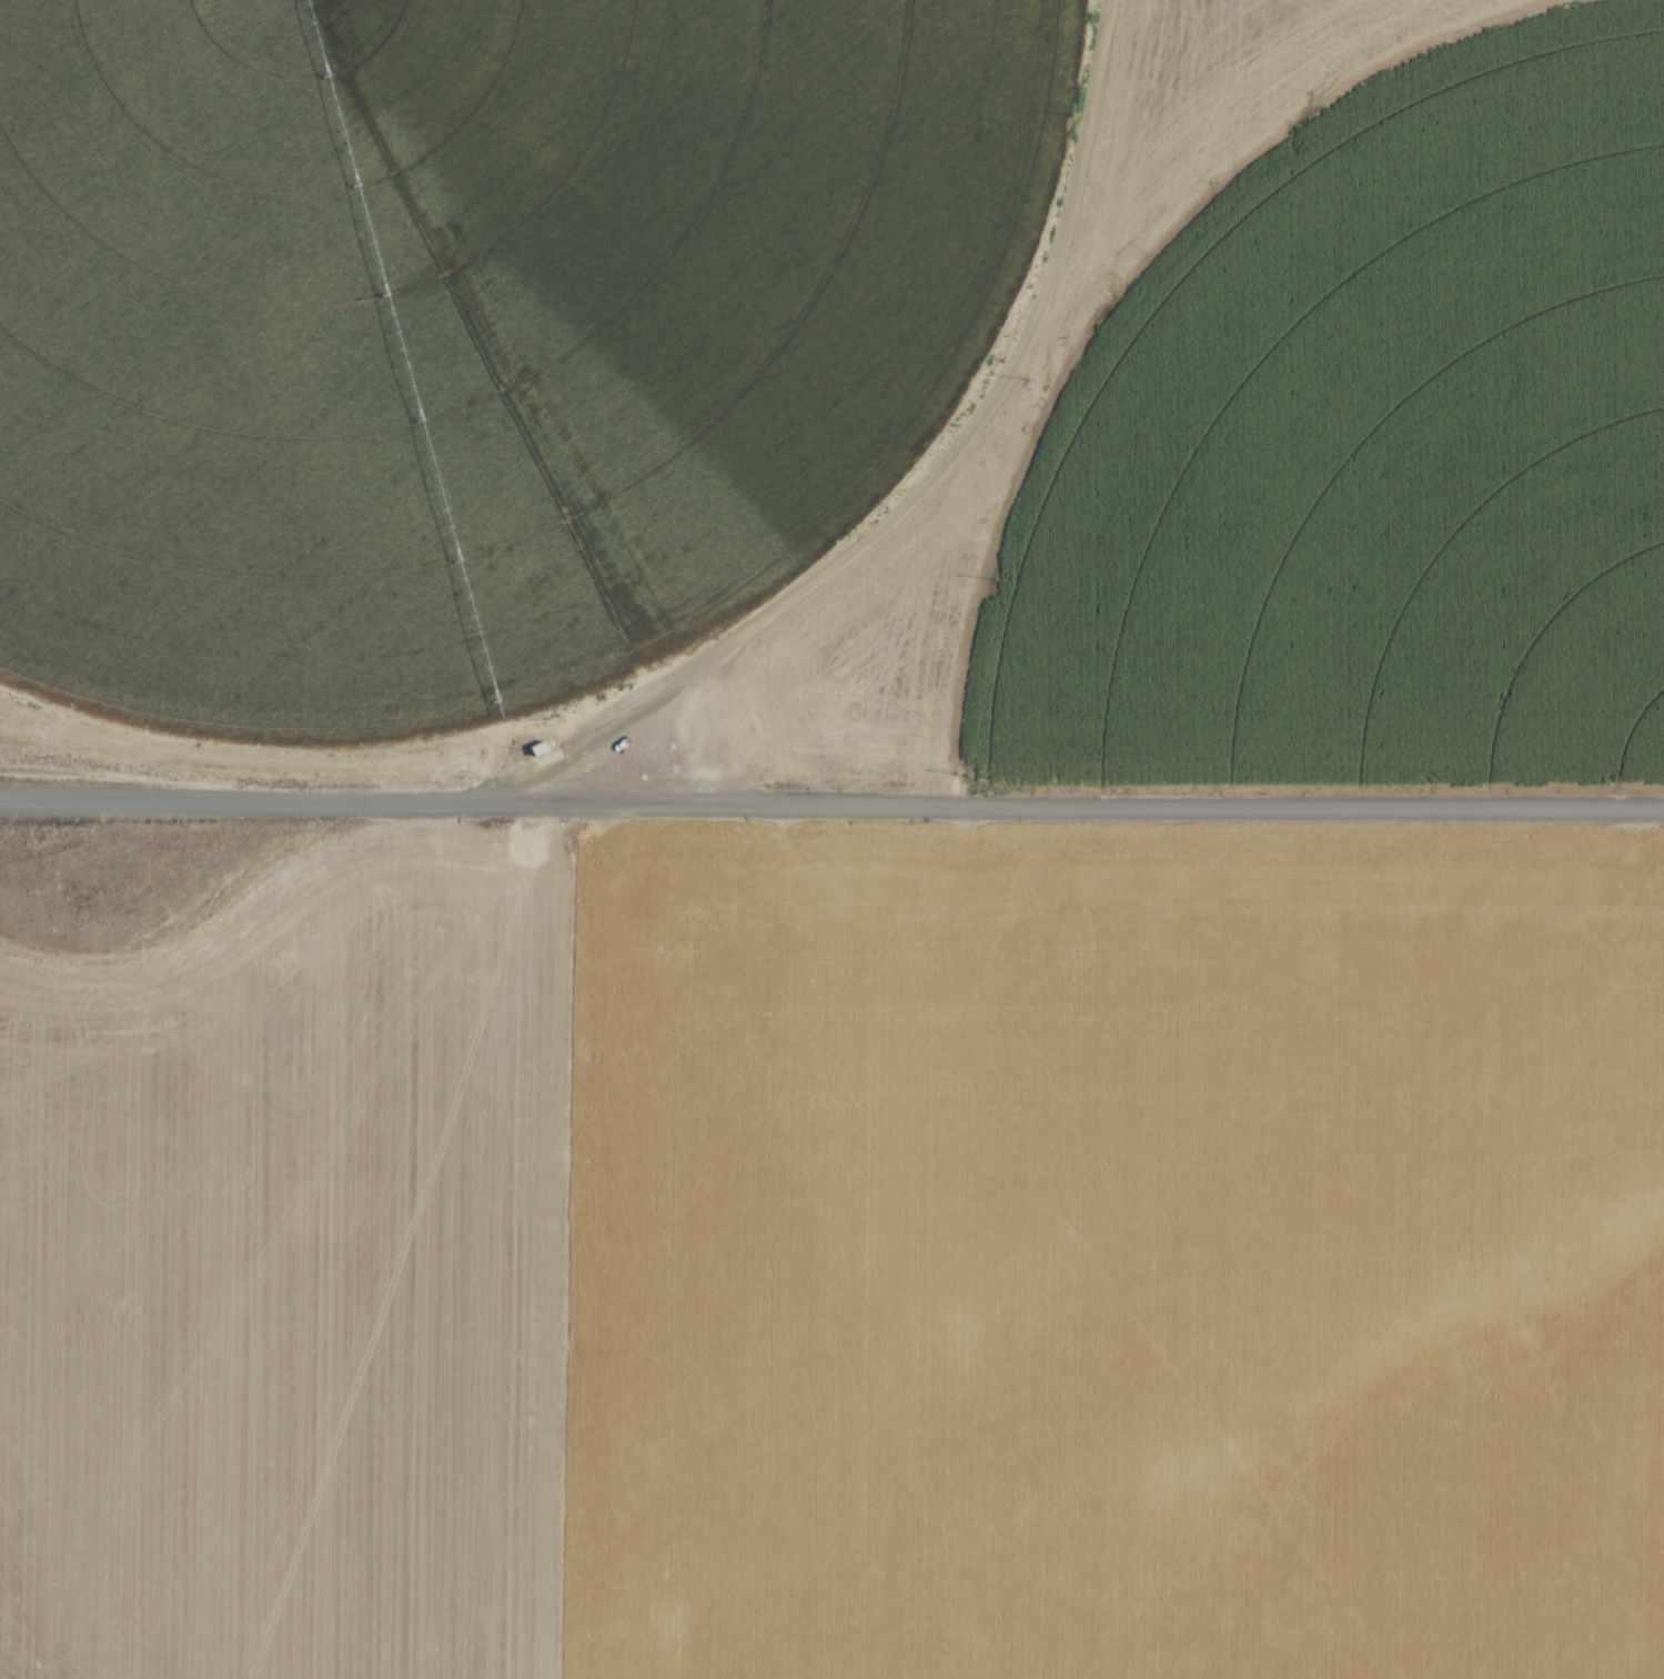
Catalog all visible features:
crop: (487, 334)
road: (831, 813)

